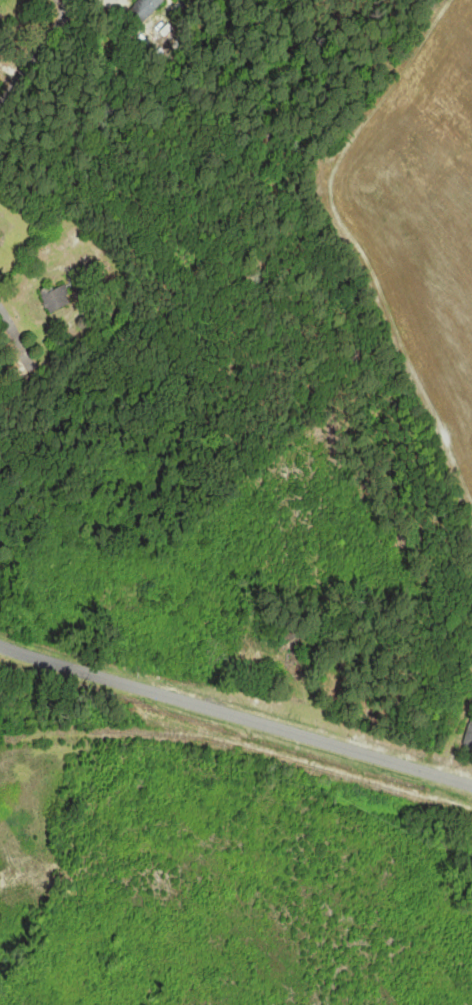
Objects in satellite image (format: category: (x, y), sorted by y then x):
road: (69, 3)
road: (39, 51)
building: (56, 299)
road: (13, 332)
road: (29, 362)
road: (235, 716)
building: (469, 738)
railway: (239, 747)
building: (236, 749)

